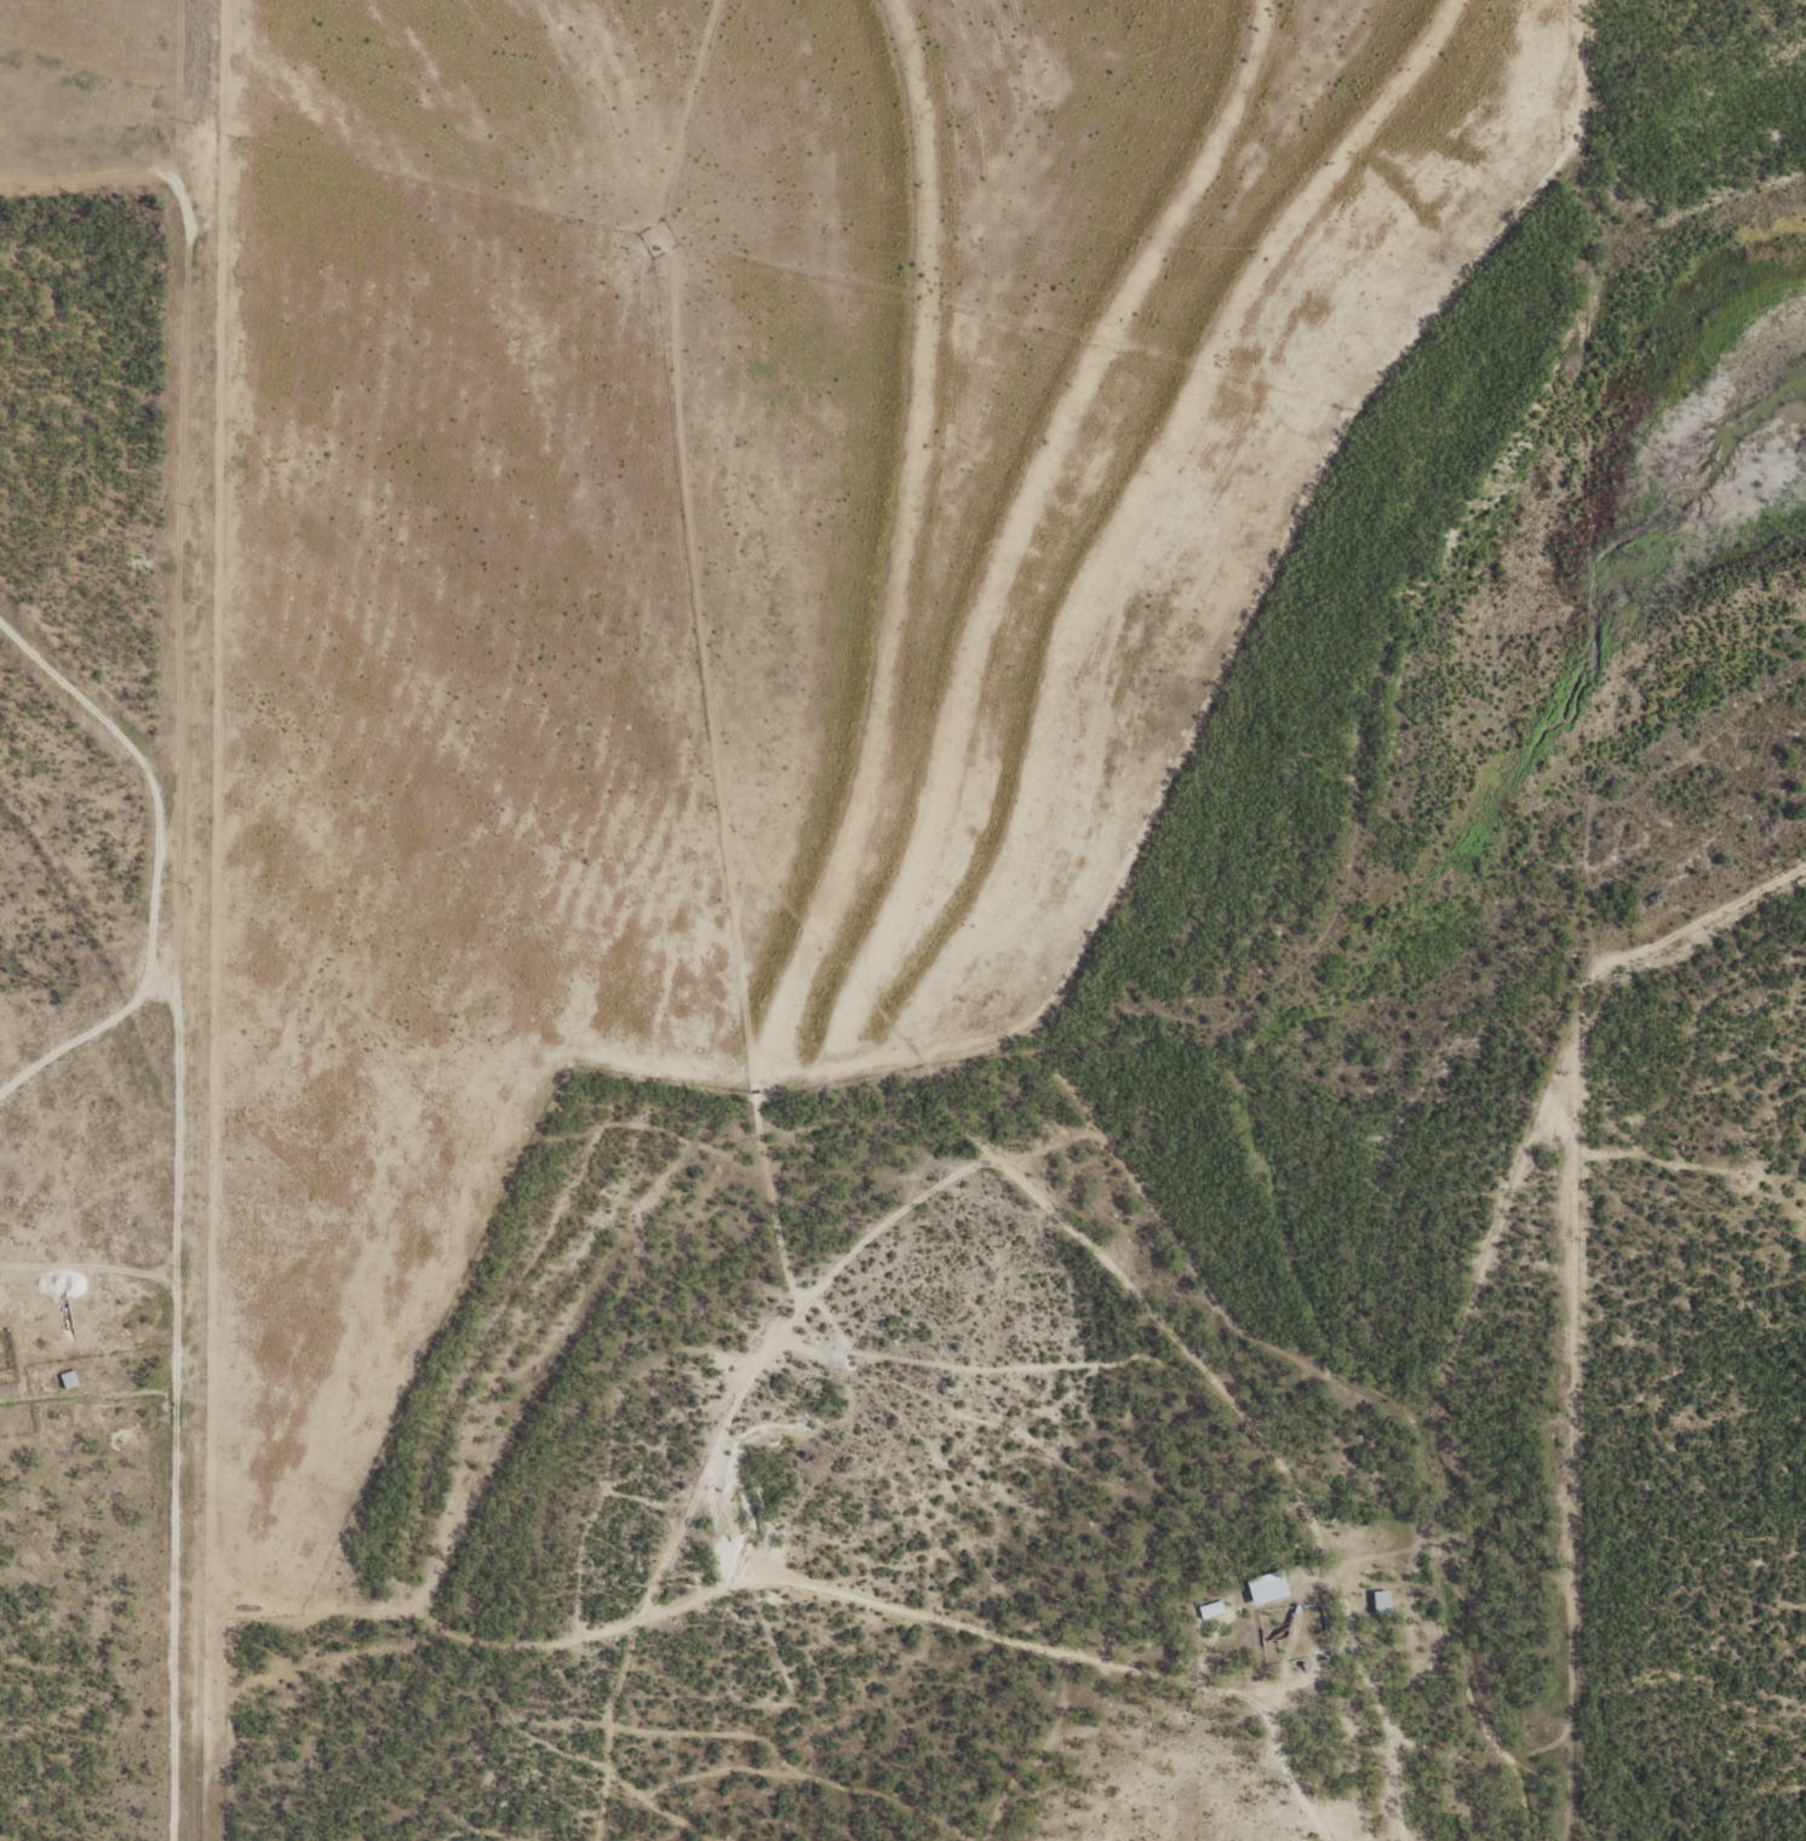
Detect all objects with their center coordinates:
road: (230, 920)
road: (18, 1375)
building: (1382, 1602)
road: (802, 1652)

